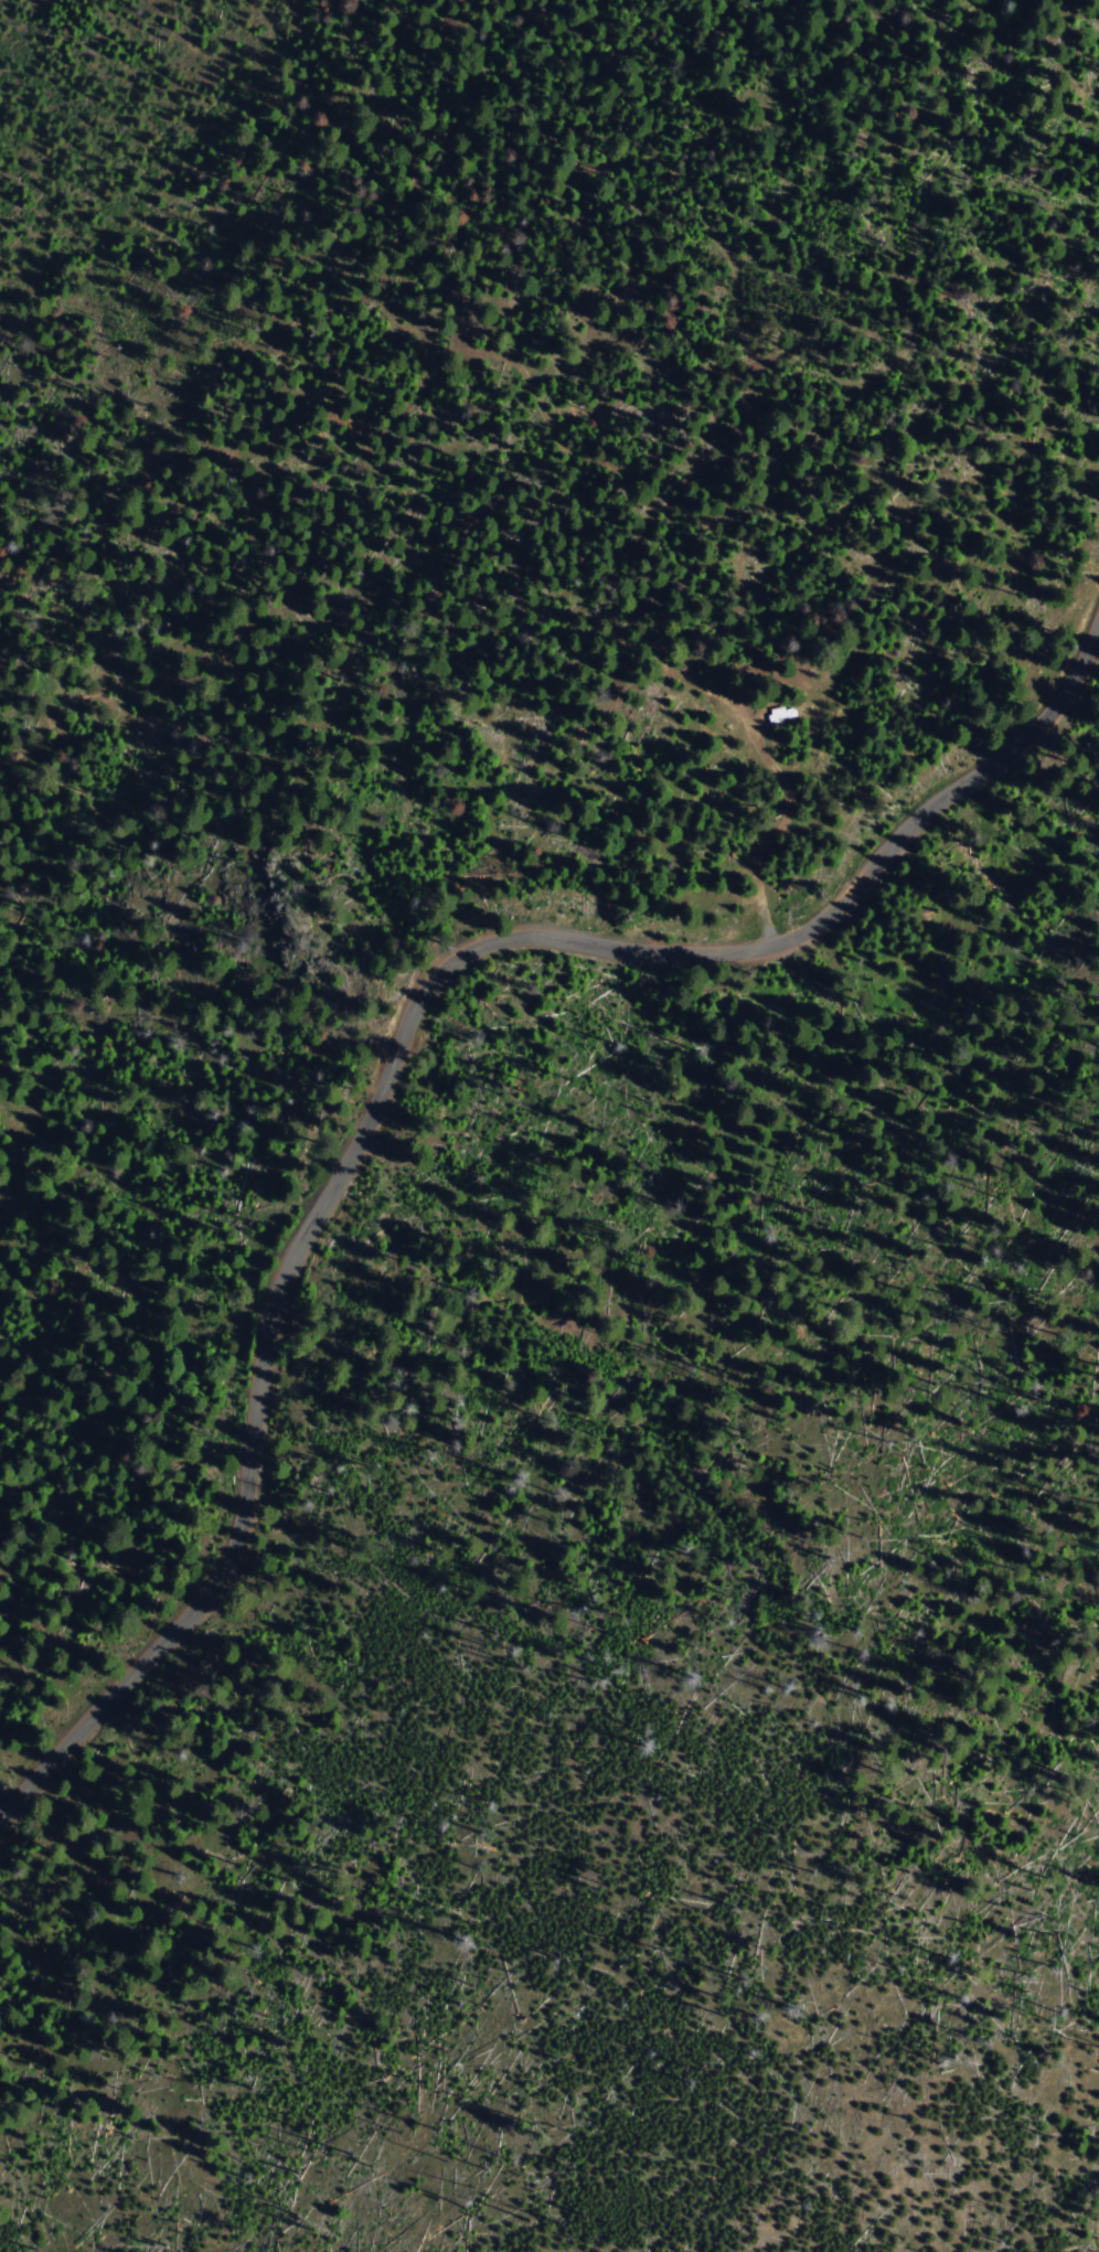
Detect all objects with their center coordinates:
road: (398, 1053)

